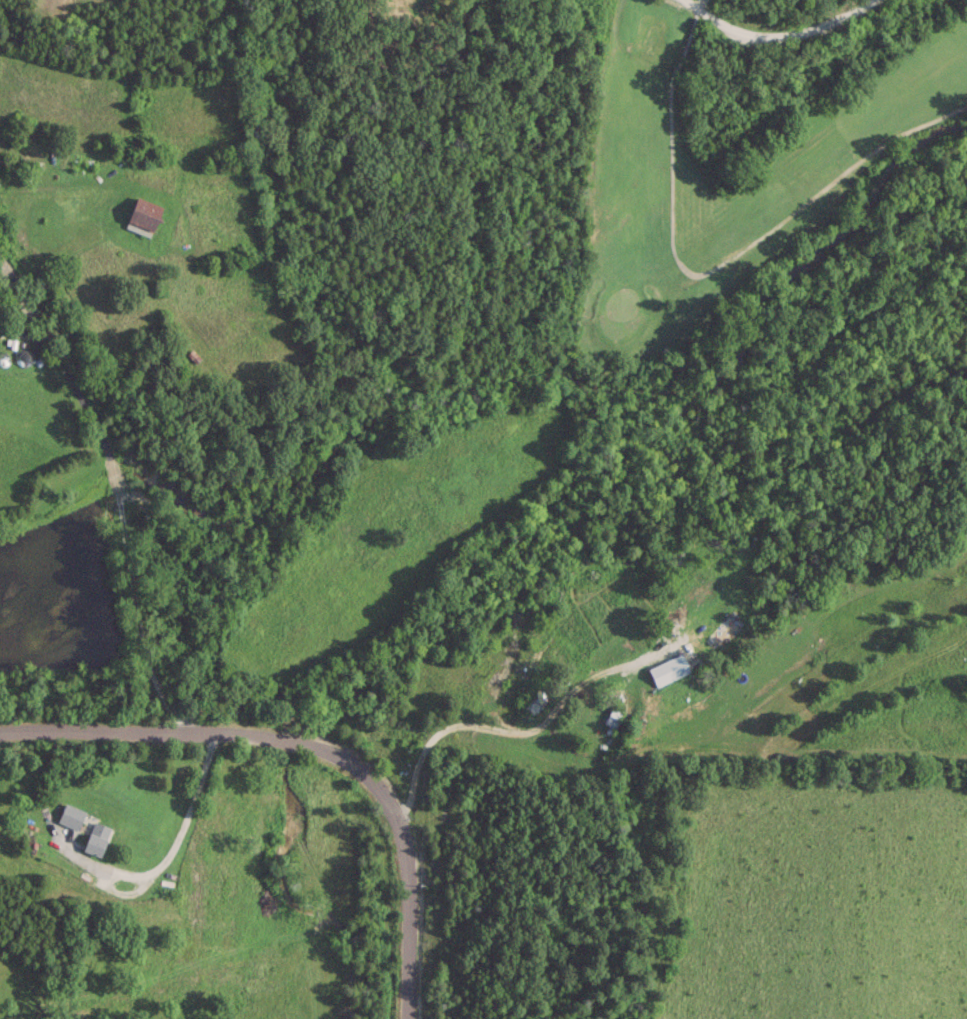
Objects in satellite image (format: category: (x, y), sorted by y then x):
building: (48, 7)
road: (778, 35)
building: (146, 214)
road: (32, 314)
road: (25, 336)
road: (123, 535)
building: (613, 717)
road: (507, 730)
road: (315, 748)
building: (71, 815)
building: (97, 837)
road: (174, 846)

